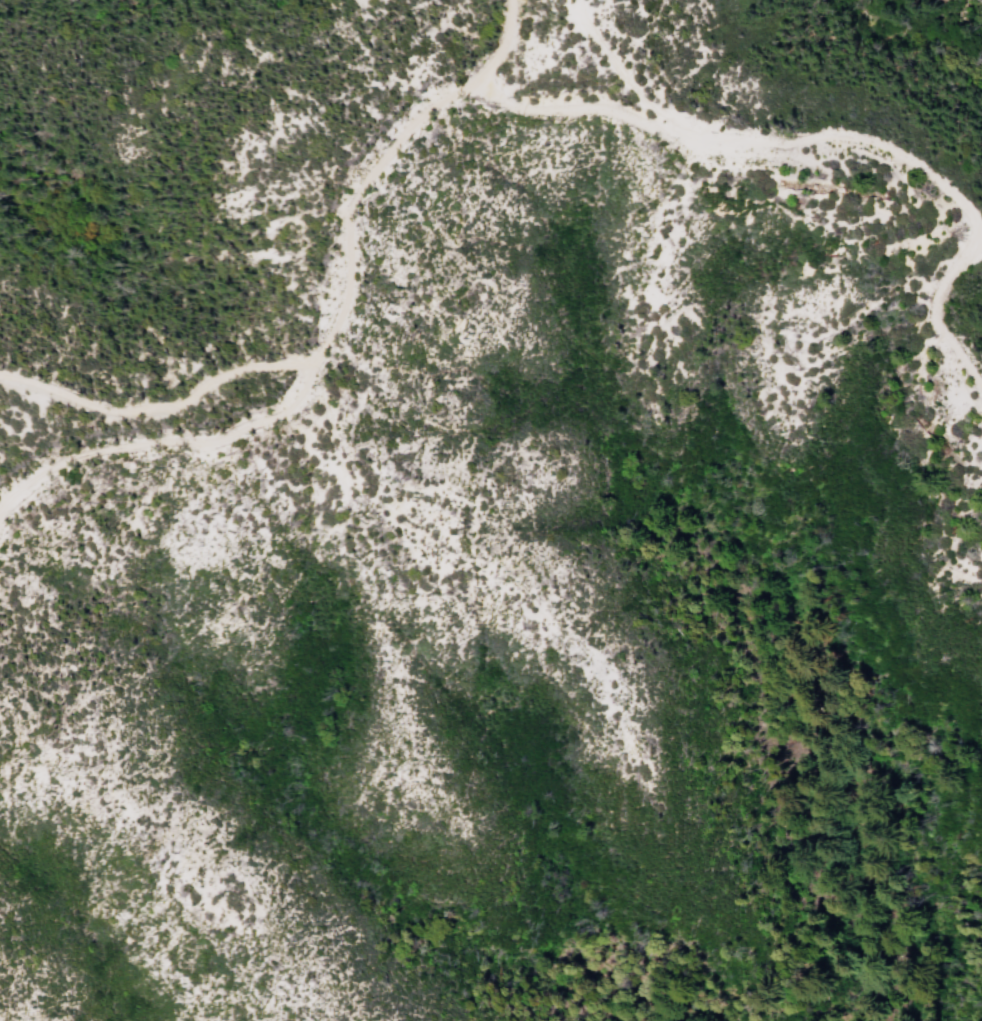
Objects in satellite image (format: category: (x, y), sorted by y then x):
road: (617, 74)
road: (782, 142)
road: (319, 361)
building: (980, 425)
road: (166, 444)

